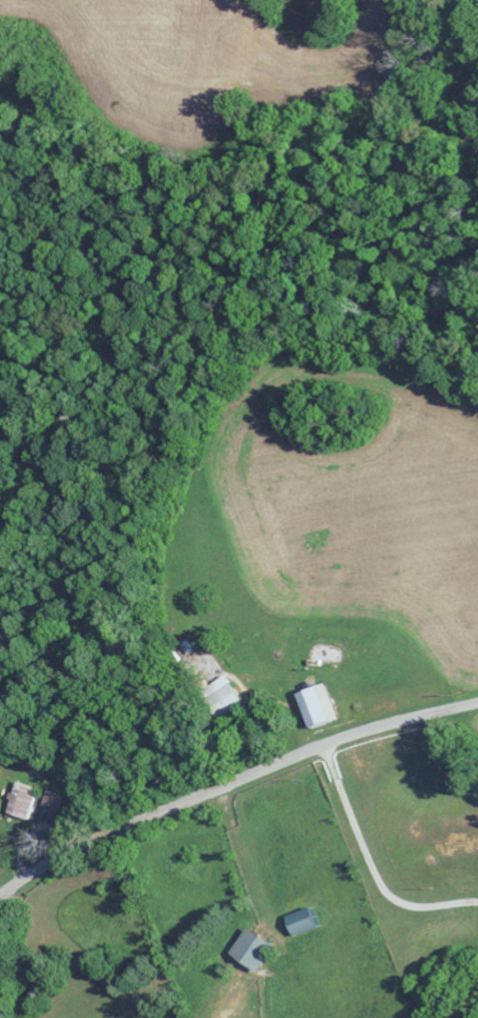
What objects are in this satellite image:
road: (234, 116)
building: (324, 707)
road: (232, 784)
building: (35, 801)
building: (259, 951)

